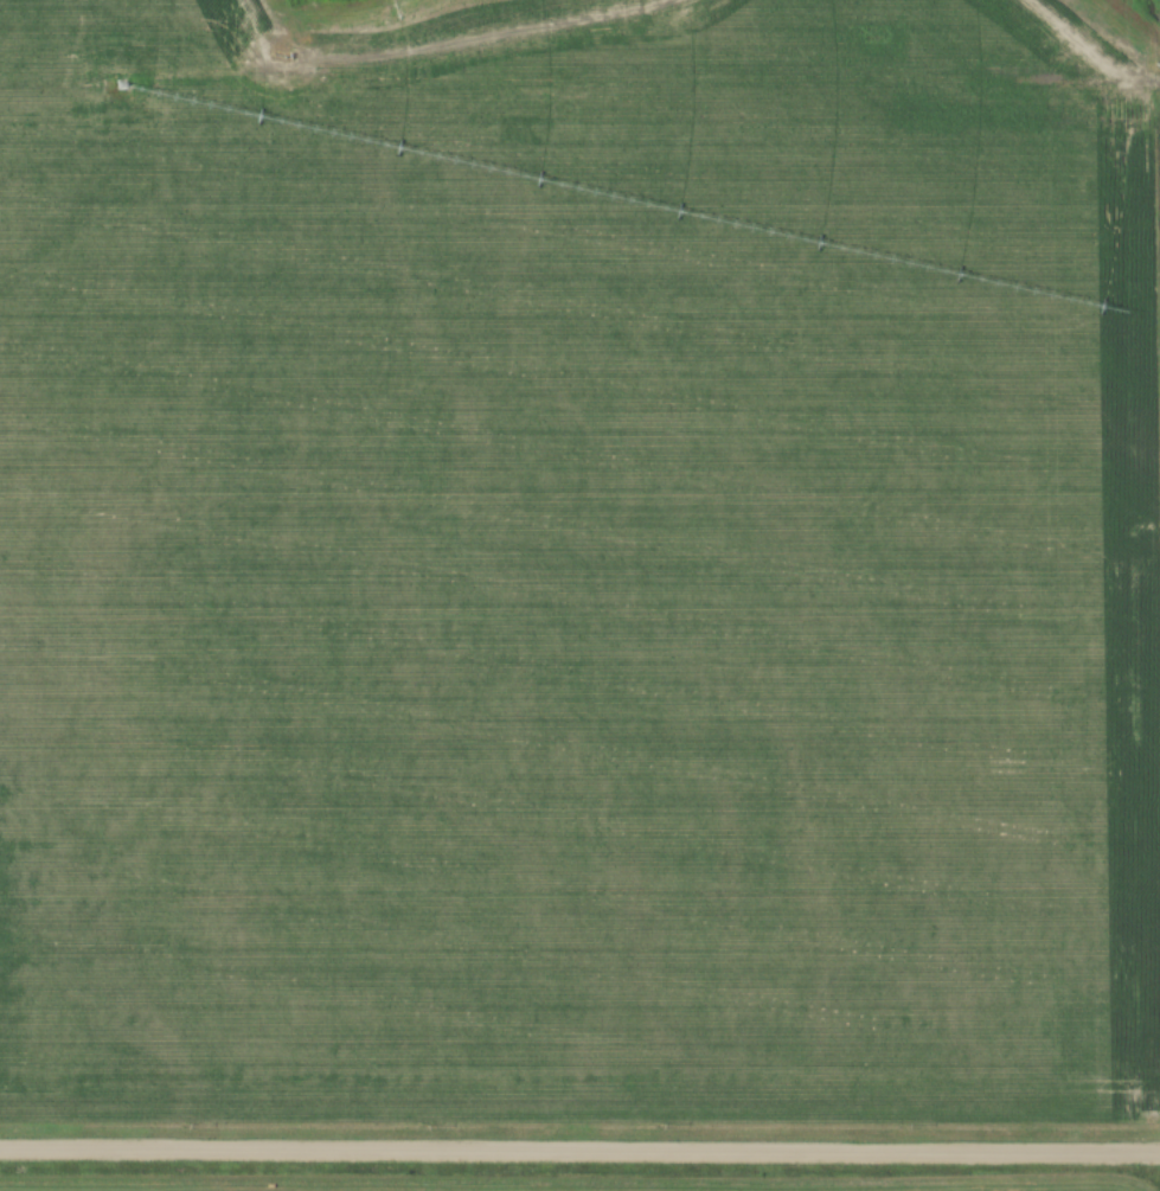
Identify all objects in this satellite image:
road: (579, 1153)

